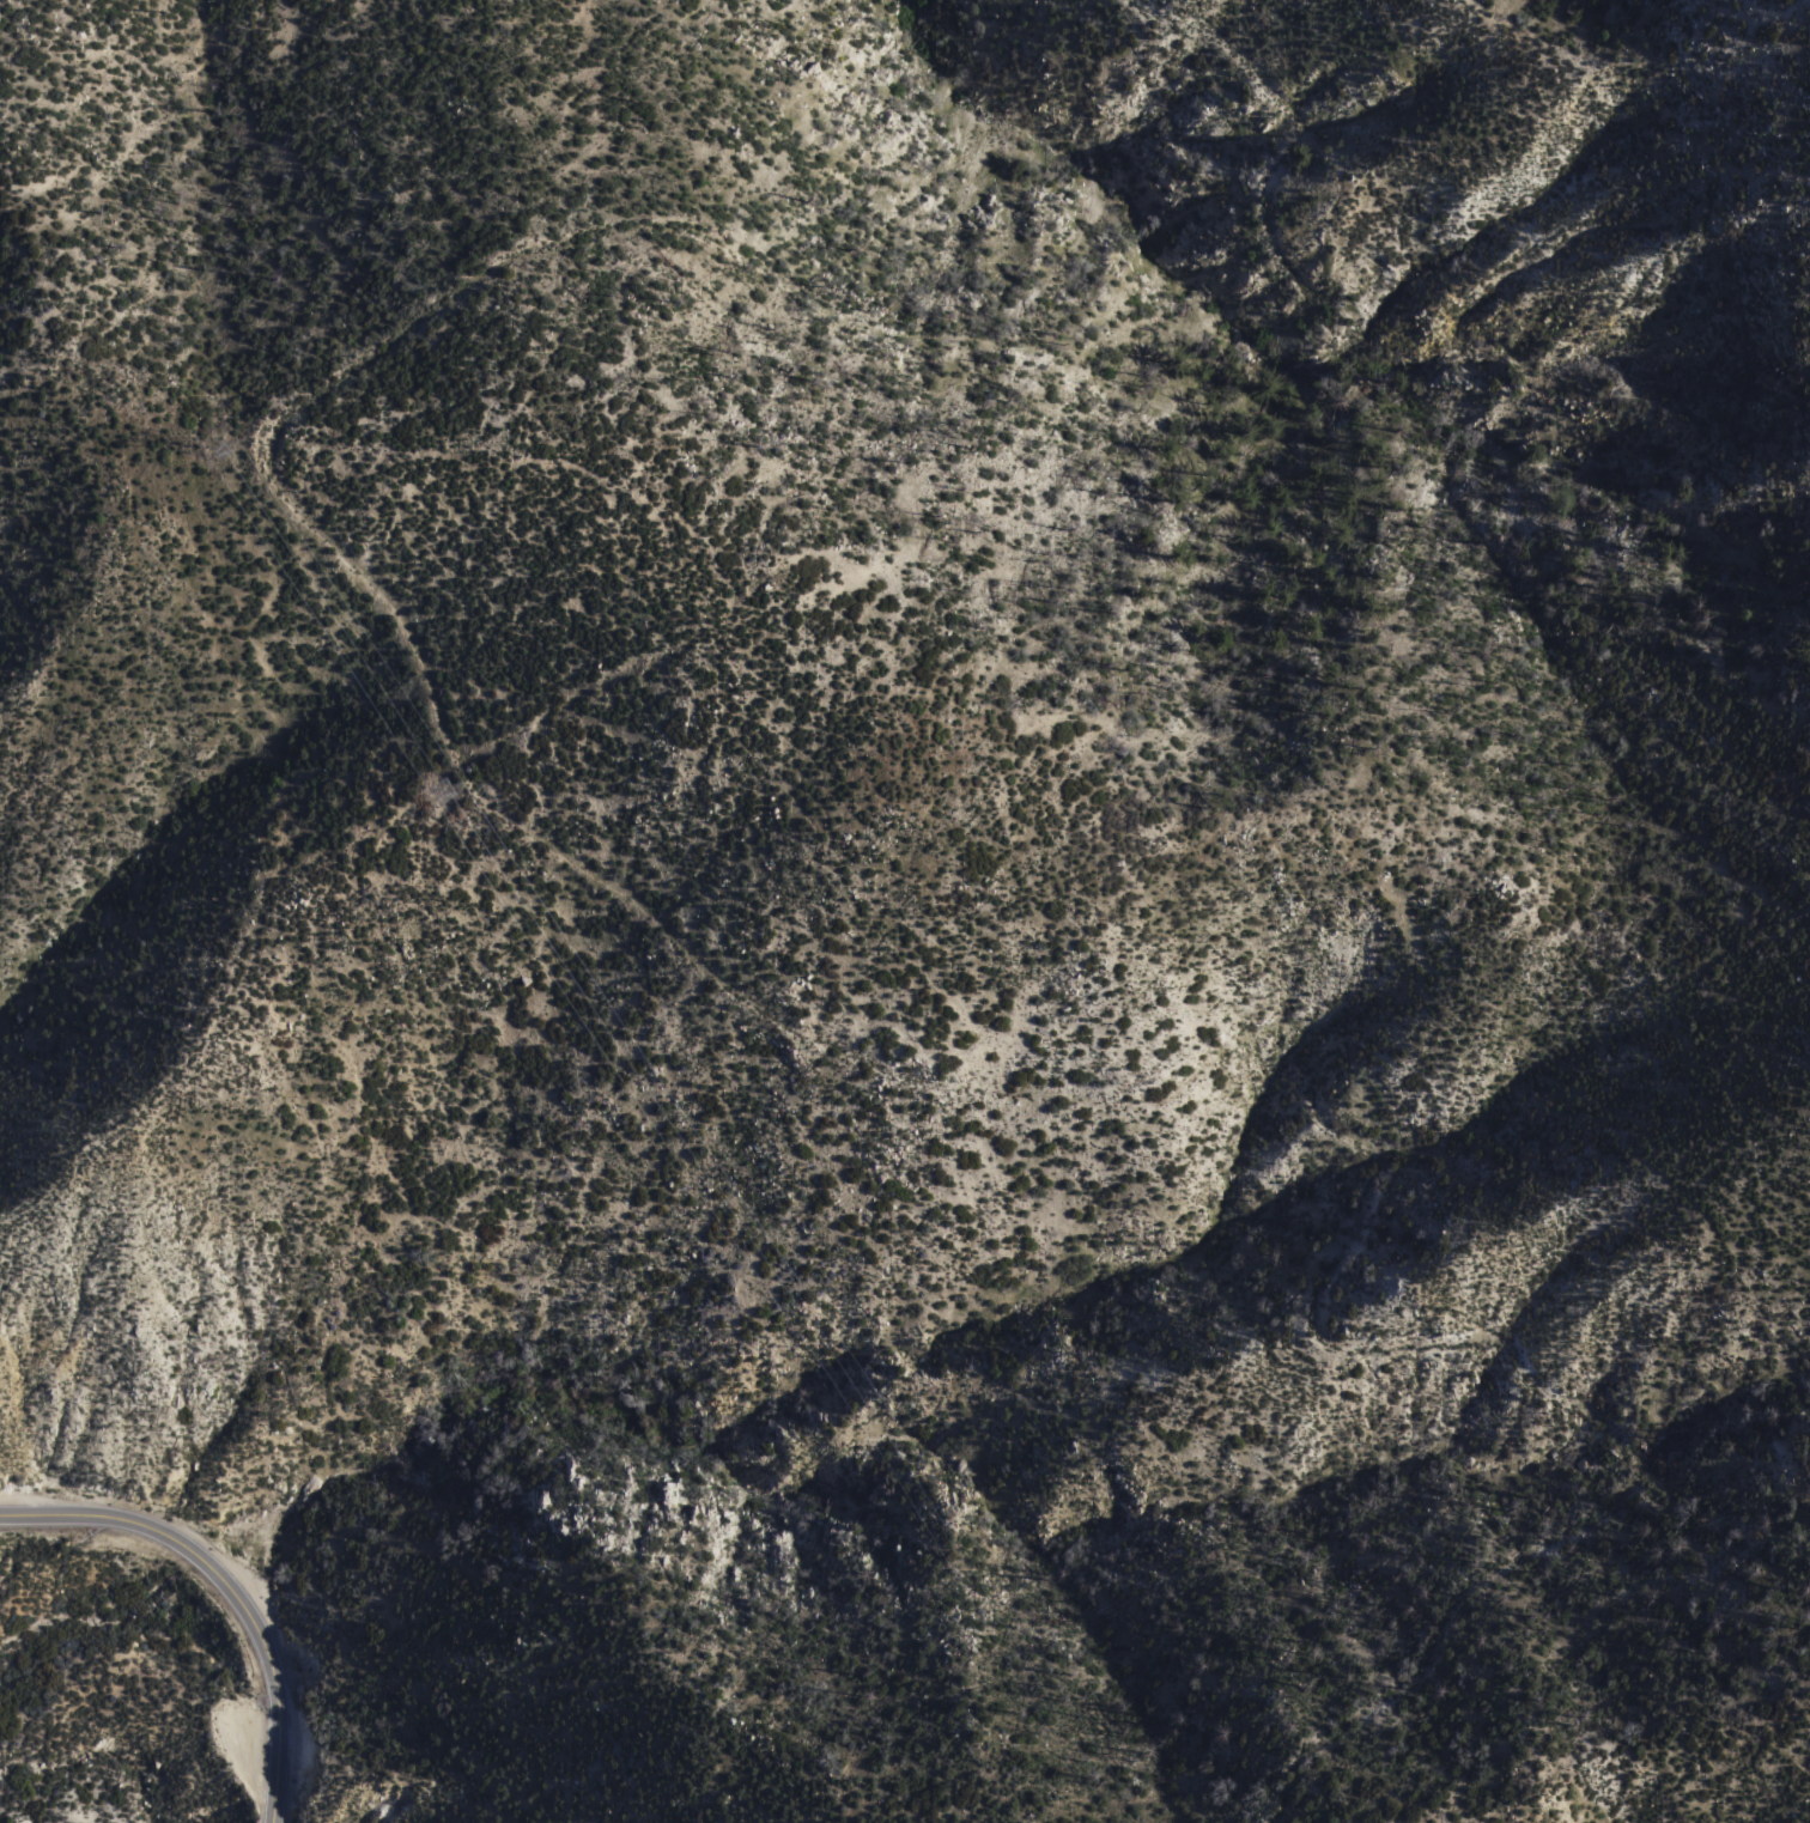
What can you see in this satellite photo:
power tower: (460, 785)
road: (229, 1584)

